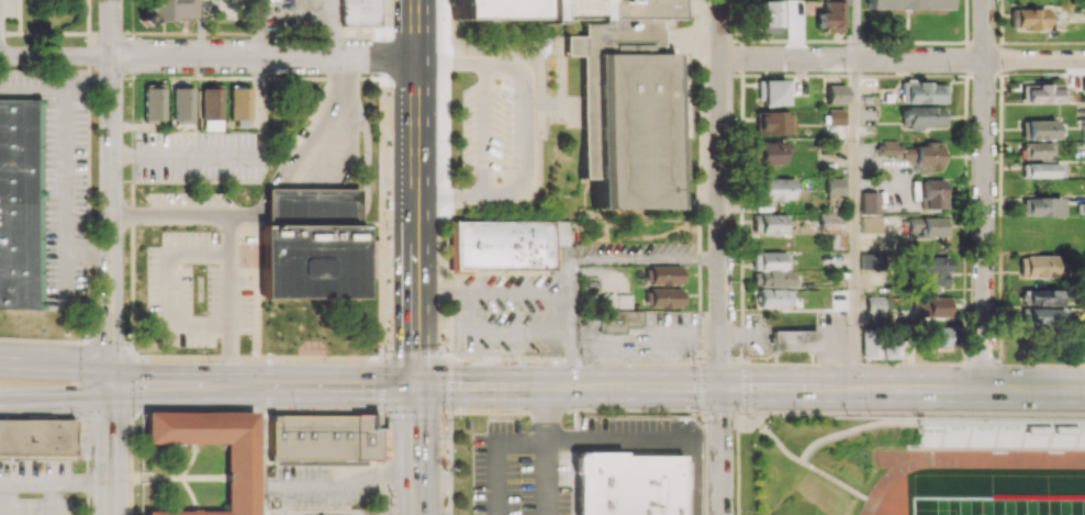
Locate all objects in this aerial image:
building: (907, 4)
building: (170, 10)
building: (359, 12)
building: (830, 15)
building: (769, 16)
building: (1030, 19)
road: (261, 29)
road: (853, 30)
road: (674, 41)
road: (701, 41)
road: (208, 56)
road: (903, 60)
road: (449, 65)
road: (56, 83)
building: (608, 90)
building: (772, 92)
building: (921, 92)
building: (835, 93)
building: (1042, 93)
building: (154, 101)
building: (182, 103)
building: (239, 105)
building: (211, 108)
road: (336, 108)
road: (681, 112)
building: (921, 115)
building: (835, 116)
building: (772, 122)
road: (484, 130)
building: (1043, 130)
parking lot: (493, 131)
road: (525, 131)
building: (1083, 131)
building: (1036, 150)
building: (914, 153)
road: (182, 156)
building: (1041, 170)
road: (64, 176)
building: (835, 186)
building: (776, 189)
road: (112, 191)
road: (415, 193)
building: (932, 193)
road: (722, 194)
road: (449, 195)
road: (983, 195)
building: (869, 202)
building: (20, 203)
road: (694, 203)
building: (1041, 206)
building: (829, 223)
building: (769, 224)
building: (871, 224)
road: (854, 225)
building: (928, 226)
road: (230, 240)
building: (312, 244)
building: (504, 245)
road: (89, 254)
road: (647, 259)
building: (866, 260)
building: (1037, 266)
building: (771, 269)
building: (933, 270)
building: (665, 275)
road: (494, 293)
building: (1038, 296)
building: (665, 298)
building: (774, 298)
road: (573, 305)
building: (876, 309)
building: (937, 309)
building: (617, 312)
building: (1040, 317)
building: (932, 336)
building: (794, 339)
road: (66, 340)
building: (870, 343)
building: (1078, 345)
road: (56, 367)
traffic signals: (111, 383)
traffic signals: (416, 388)
road: (597, 389)
traffic signals: (722, 389)
road: (57, 401)
road: (547, 415)
road: (55, 416)
building: (1003, 432)
building: (36, 436)
building: (323, 437)
road: (618, 443)
road: (111, 449)
road: (258, 450)
road: (416, 451)
road: (722, 451)
road: (496, 452)
parking lot: (550, 460)
track: (963, 461)
road: (548, 479)
road: (689, 479)
road: (42, 480)
building: (235, 480)
building: (626, 485)
road: (337, 486)
road: (51, 497)
park: (998, 505)

